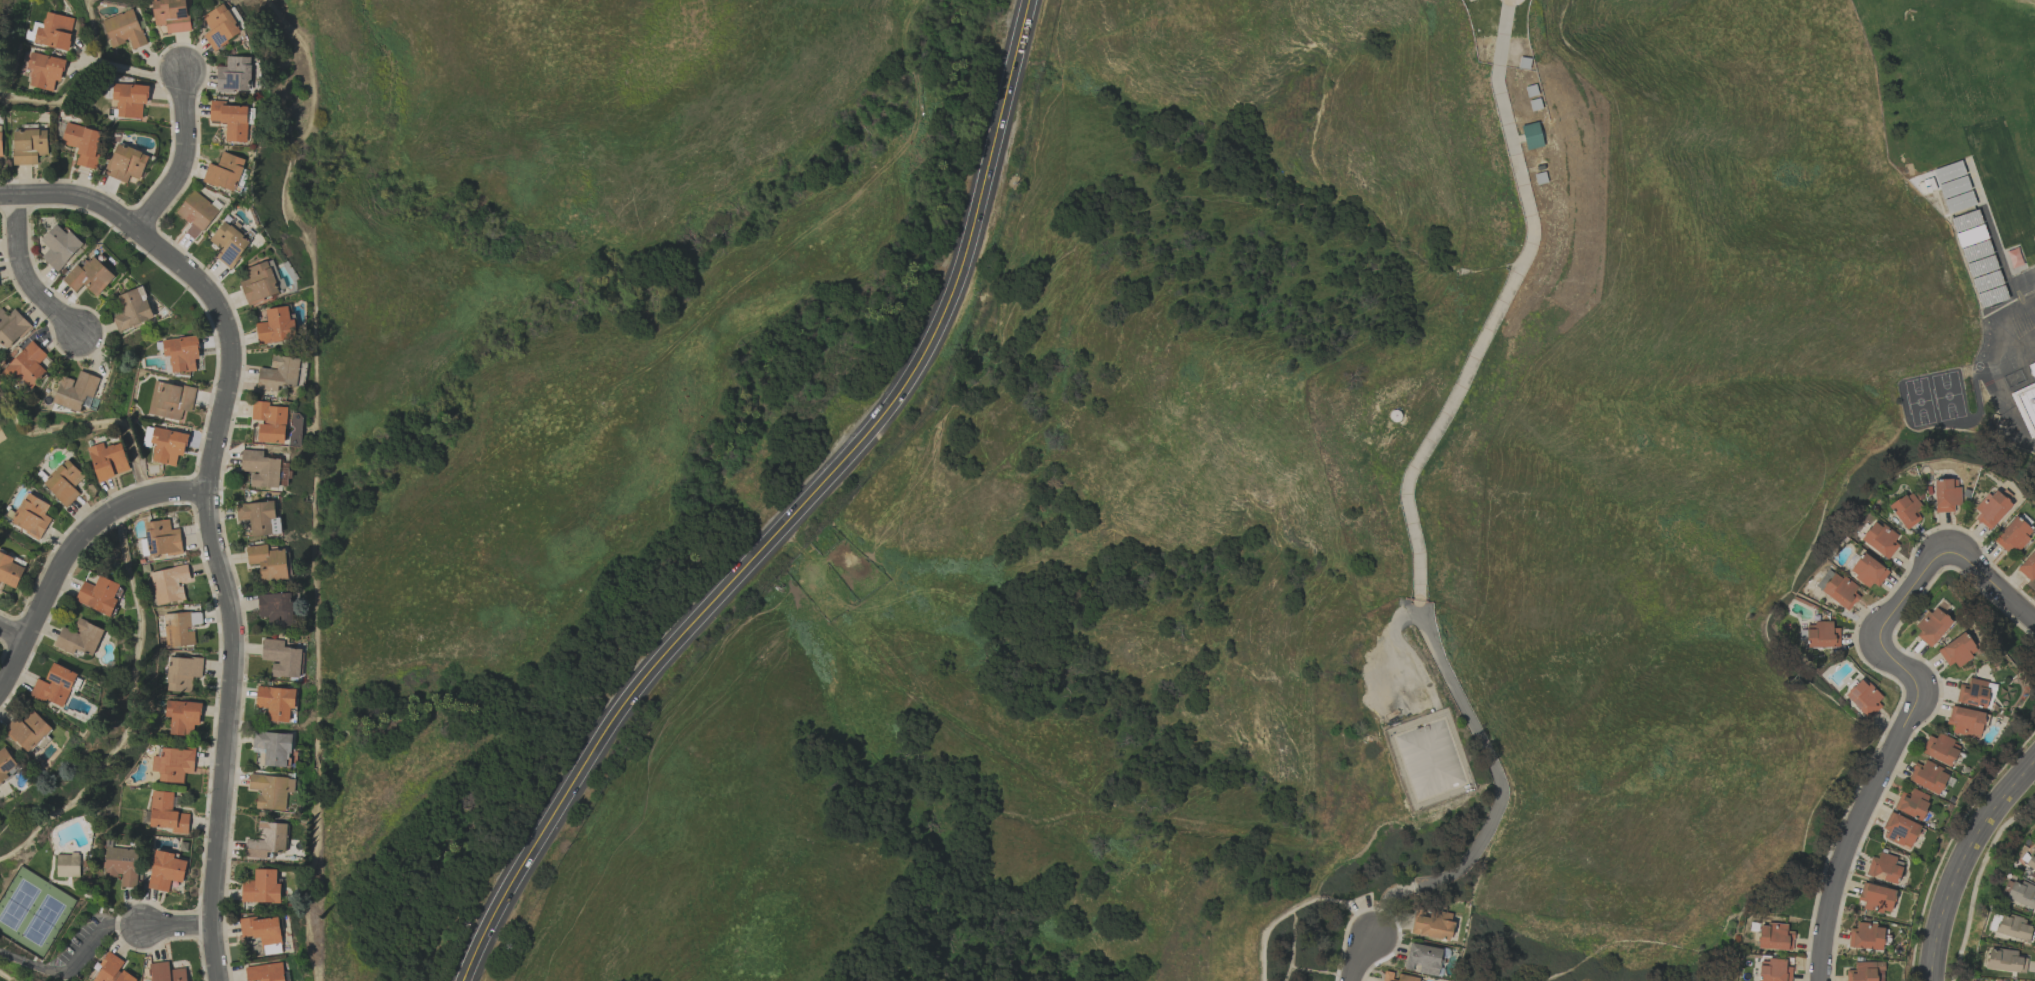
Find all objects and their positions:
building: (171, 15)
building: (220, 26)
building: (124, 29)
building: (54, 31)
building: (44, 70)
road: (131, 71)
building: (235, 74)
building: (129, 99)
building: (230, 119)
building: (1531, 136)
building: (0, 143)
building: (82, 144)
building: (29, 146)
road: (183, 157)
building: (126, 163)
building: (225, 172)
building: (1954, 186)
building: (196, 213)
building: (229, 244)
building: (59, 247)
building: (89, 276)
road: (23, 278)
building: (259, 282)
road: (1498, 306)
building: (133, 309)
building: (2034, 325)
building: (276, 326)
building: (11, 327)
building: (2034, 329)
building: (181, 353)
building: (27, 365)
building: (279, 374)
building: (75, 391)
park: (1934, 398)
building: (169, 400)
building: (2026, 402)
building: (269, 422)
building: (146, 436)
building: (167, 446)
building: (107, 460)
building: (260, 468)
building: (63, 482)
building: (1945, 494)
building: (1991, 507)
building: (1906, 510)
road: (209, 514)
road: (797, 514)
building: (31, 516)
building: (257, 516)
building: (2012, 535)
building: (161, 538)
building: (1879, 539)
road: (69, 551)
building: (268, 562)
building: (2028, 565)
building: (9, 570)
building: (1867, 570)
building: (168, 584)
road: (1994, 584)
building: (1840, 591)
building: (98, 595)
building: (276, 608)
building: (1931, 625)
building: (180, 628)
road: (11, 632)
building: (1823, 635)
building: (79, 638)
building: (1956, 650)
building: (281, 658)
building: (182, 673)
building: (55, 685)
building: (1973, 693)
building: (1863, 698)
building: (276, 702)
building: (182, 717)
building: (1965, 721)
building: (28, 730)
road: (1898, 738)
building: (273, 747)
building: (1940, 749)
building: (173, 764)
building: (6, 765)
building: (1928, 777)
building: (271, 790)
road: (1499, 790)
building: (1912, 804)
building: (166, 813)
building: (1900, 830)
building: (266, 840)
building: (2028, 861)
road: (1964, 864)
building: (67, 865)
building: (122, 865)
building: (1884, 868)
building: (165, 871)
building: (261, 887)
building: (2019, 893)
building: (1876, 897)
park: (31, 914)
building: (1433, 925)
building: (2012, 927)
road: (176, 928)
building: (263, 932)
building: (1866, 936)
building: (1774, 937)
road: (97, 938)
road: (68, 945)
road: (1357, 956)
building: (1424, 958)
building: (2005, 961)
building: (111, 970)
building: (1774, 970)
building: (166, 972)
building: (265, 972)
building: (1407, 978)

